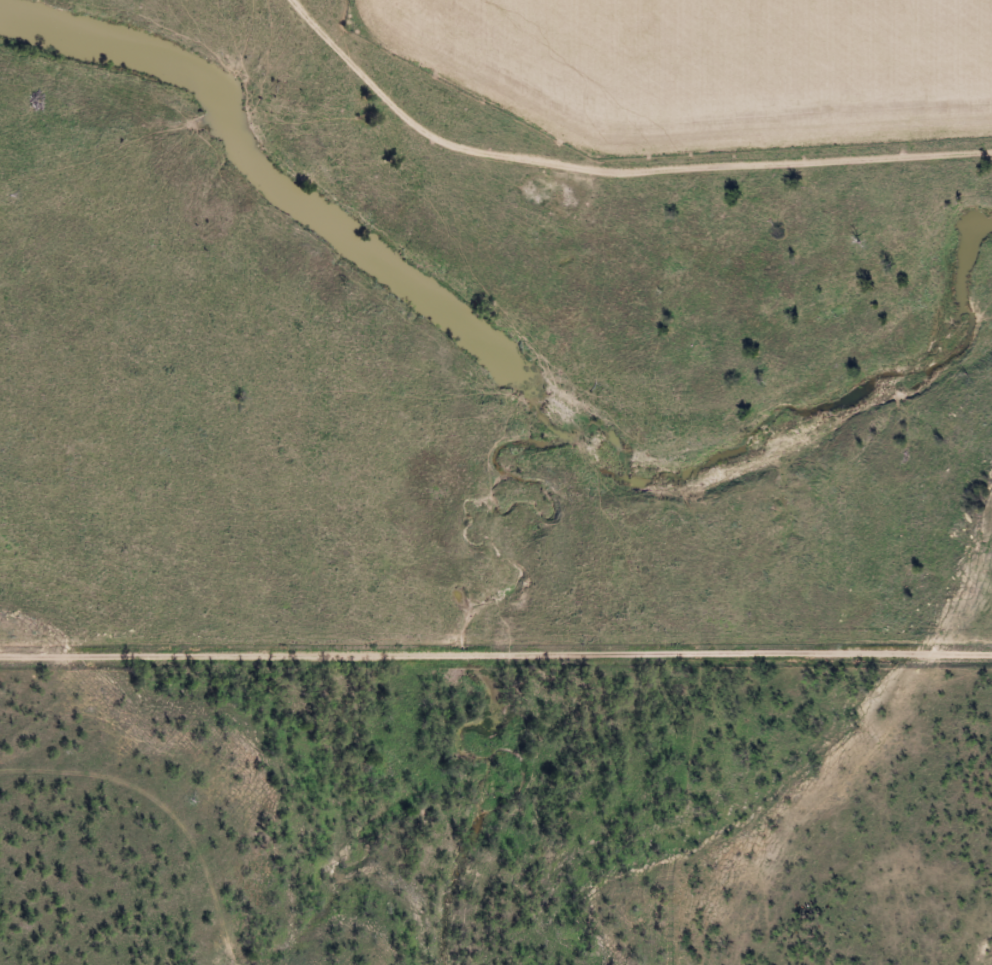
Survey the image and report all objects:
road: (602, 183)
road: (496, 653)

